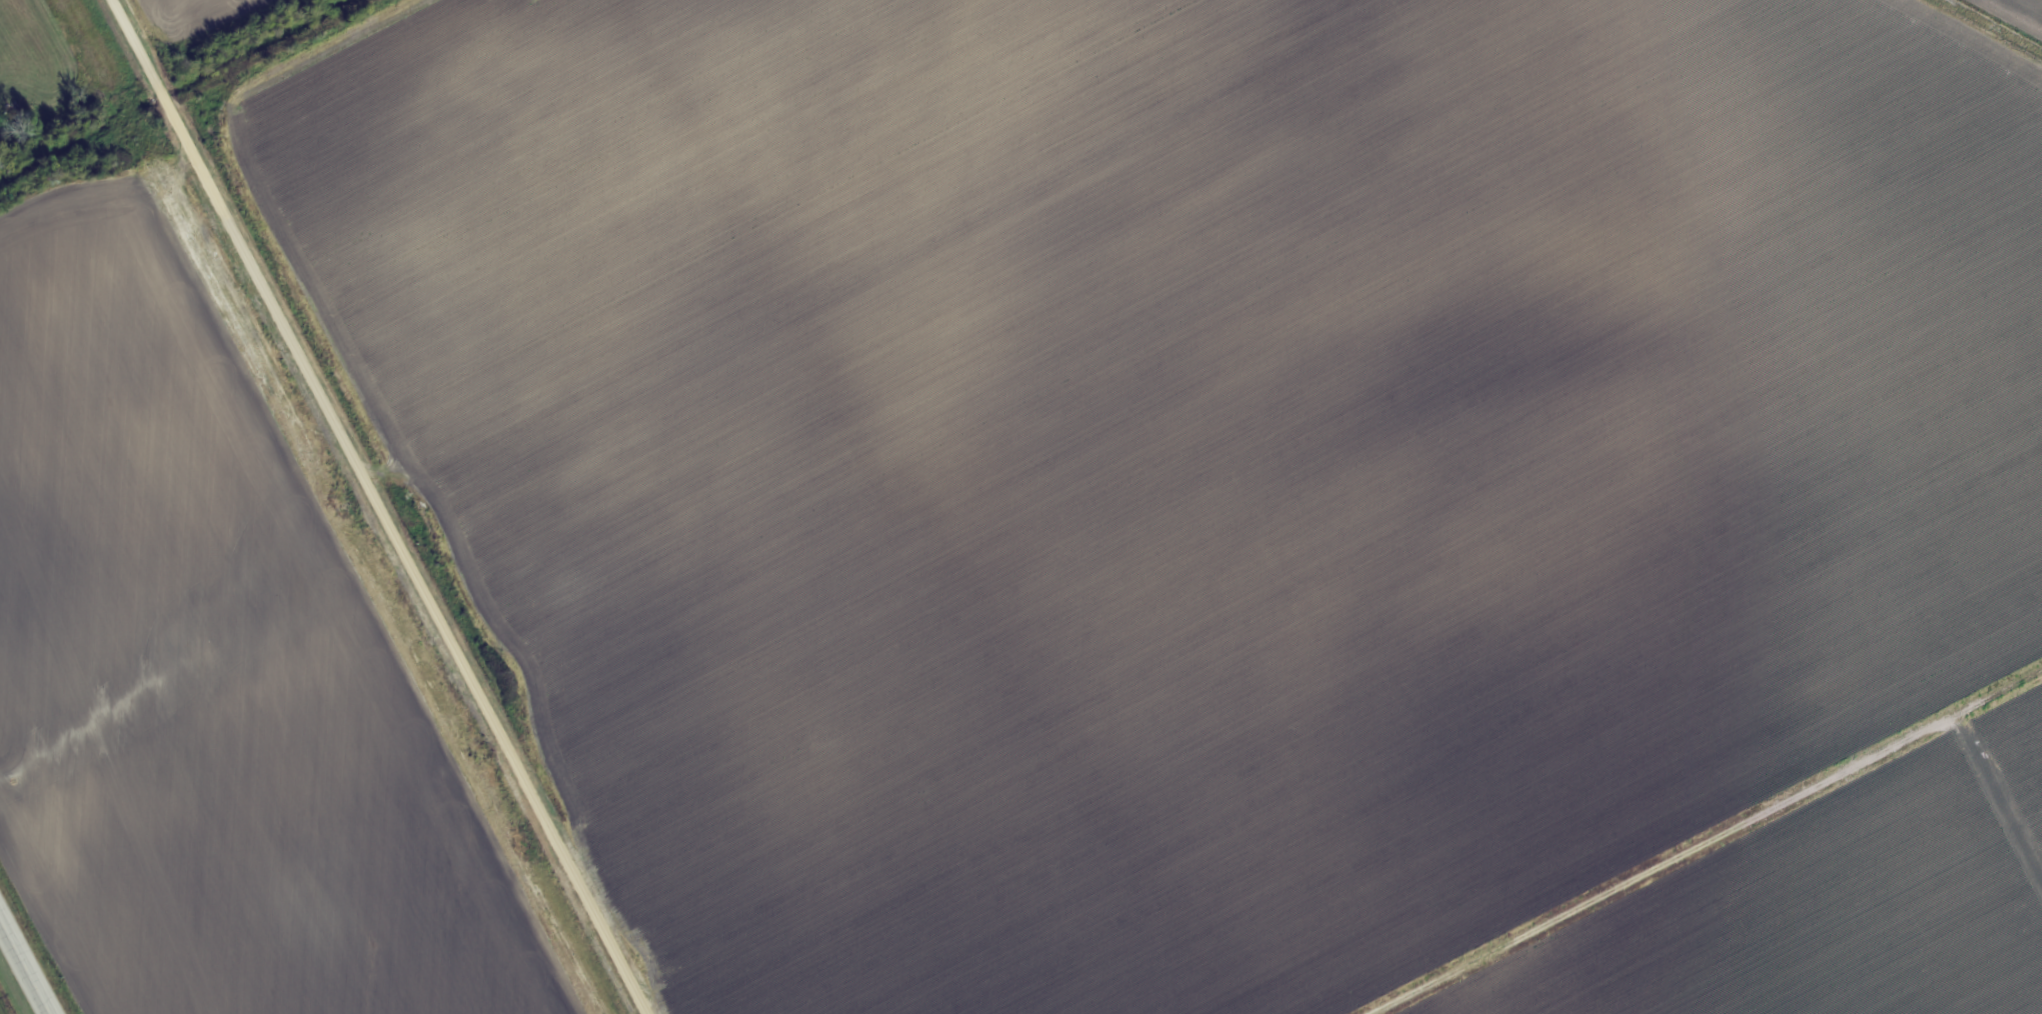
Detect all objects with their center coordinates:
railway: (323, 506)
road: (385, 507)
road: (21, 973)

